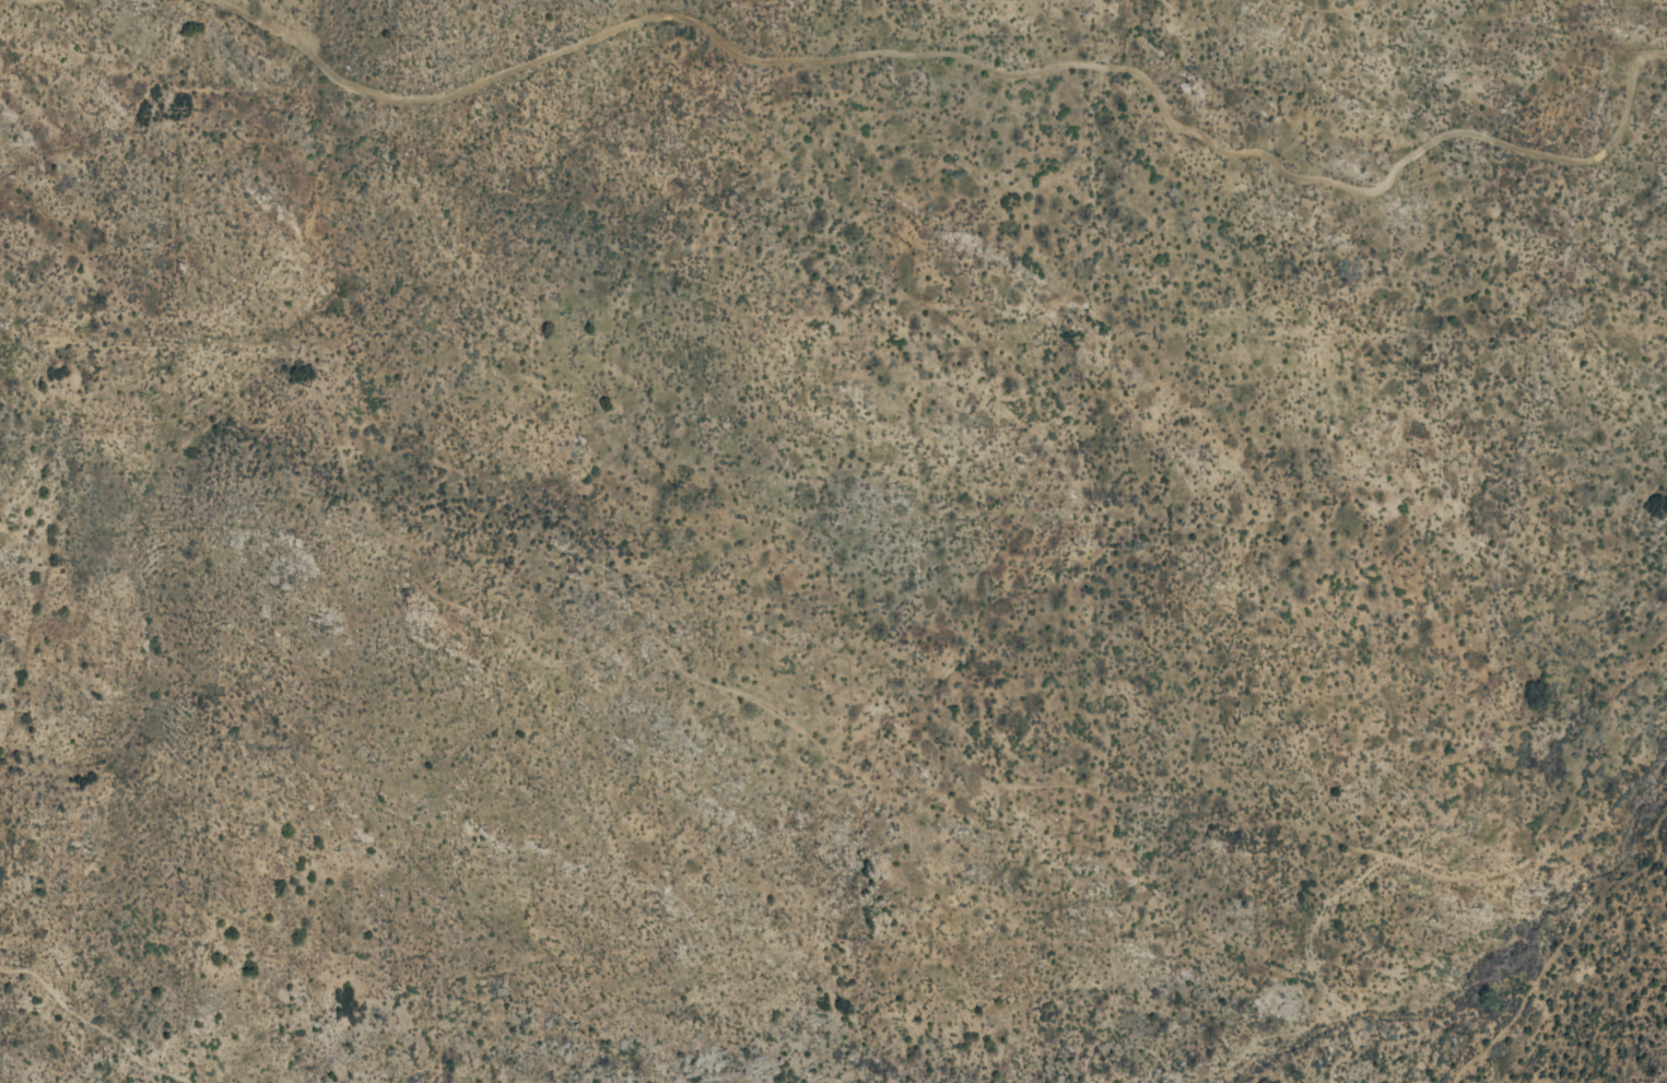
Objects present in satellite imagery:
road: (982, 67)
road: (1571, 944)

